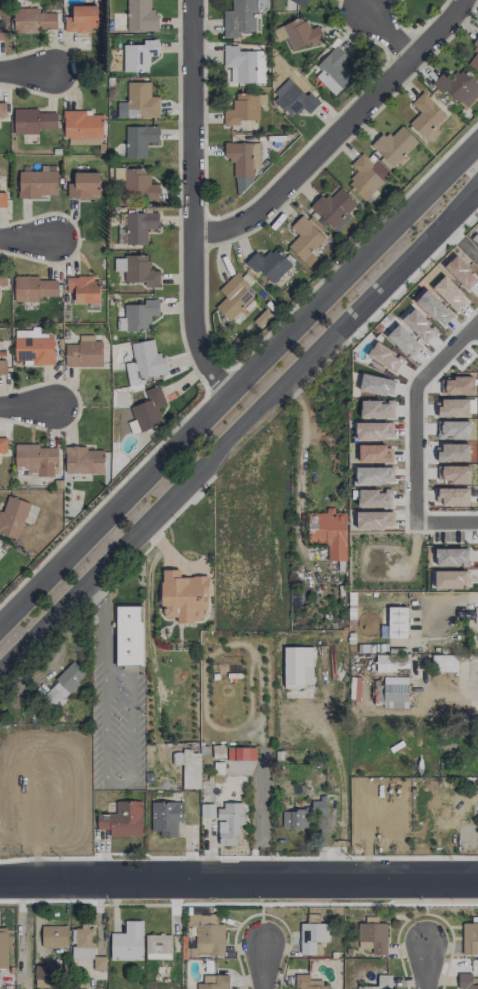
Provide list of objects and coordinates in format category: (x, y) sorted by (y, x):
building: (299, 2)
building: (140, 16)
building: (31, 19)
building: (81, 19)
building: (241, 19)
road: (384, 26)
building: (299, 33)
building: (2, 34)
building: (139, 55)
building: (473, 57)
building: (245, 64)
road: (22, 71)
building: (333, 71)
building: (459, 88)
building: (294, 99)
building: (141, 100)
building: (244, 109)
building: (2, 111)
building: (426, 117)
building: (32, 121)
building: (82, 124)
road: (333, 130)
building: (139, 140)
building: (394, 145)
building: (243, 157)
building: (363, 177)
building: (36, 184)
building: (138, 184)
building: (84, 185)
building: (3, 199)
road: (191, 204)
building: (334, 209)
building: (140, 226)
building: (304, 239)
road: (460, 241)
road: (21, 242)
building: (269, 264)
building: (137, 270)
building: (2, 278)
building: (32, 288)
building: (83, 289)
building: (233, 296)
road: (385, 301)
building: (140, 315)
building: (33, 347)
building: (83, 352)
building: (2, 362)
road: (240, 390)
road: (27, 407)
building: (147, 411)
road: (238, 429)
road: (417, 437)
building: (3, 445)
road: (297, 449)
building: (35, 460)
building: (83, 460)
building: (12, 516)
building: (328, 532)
building: (452, 556)
building: (449, 579)
building: (182, 595)
road: (435, 600)
building: (476, 615)
building: (397, 622)
road: (103, 627)
building: (129, 635)
building: (389, 663)
building: (444, 663)
building: (63, 684)
building: (393, 692)
building: (241, 754)
building: (192, 761)
road: (130, 780)
building: (303, 814)
building: (166, 817)
building: (122, 819)
building: (229, 823)
road: (238, 879)
road: (20, 933)
building: (207, 934)
building: (373, 935)
building: (53, 936)
building: (312, 937)
building: (470, 938)
building: (127, 942)
building: (158, 946)
building: (190, 946)
building: (86, 947)
building: (3, 948)
road: (259, 962)
road: (428, 964)
building: (41, 976)
building: (467, 981)
building: (214, 982)
building: (309, 983)
building: (380, 983)

